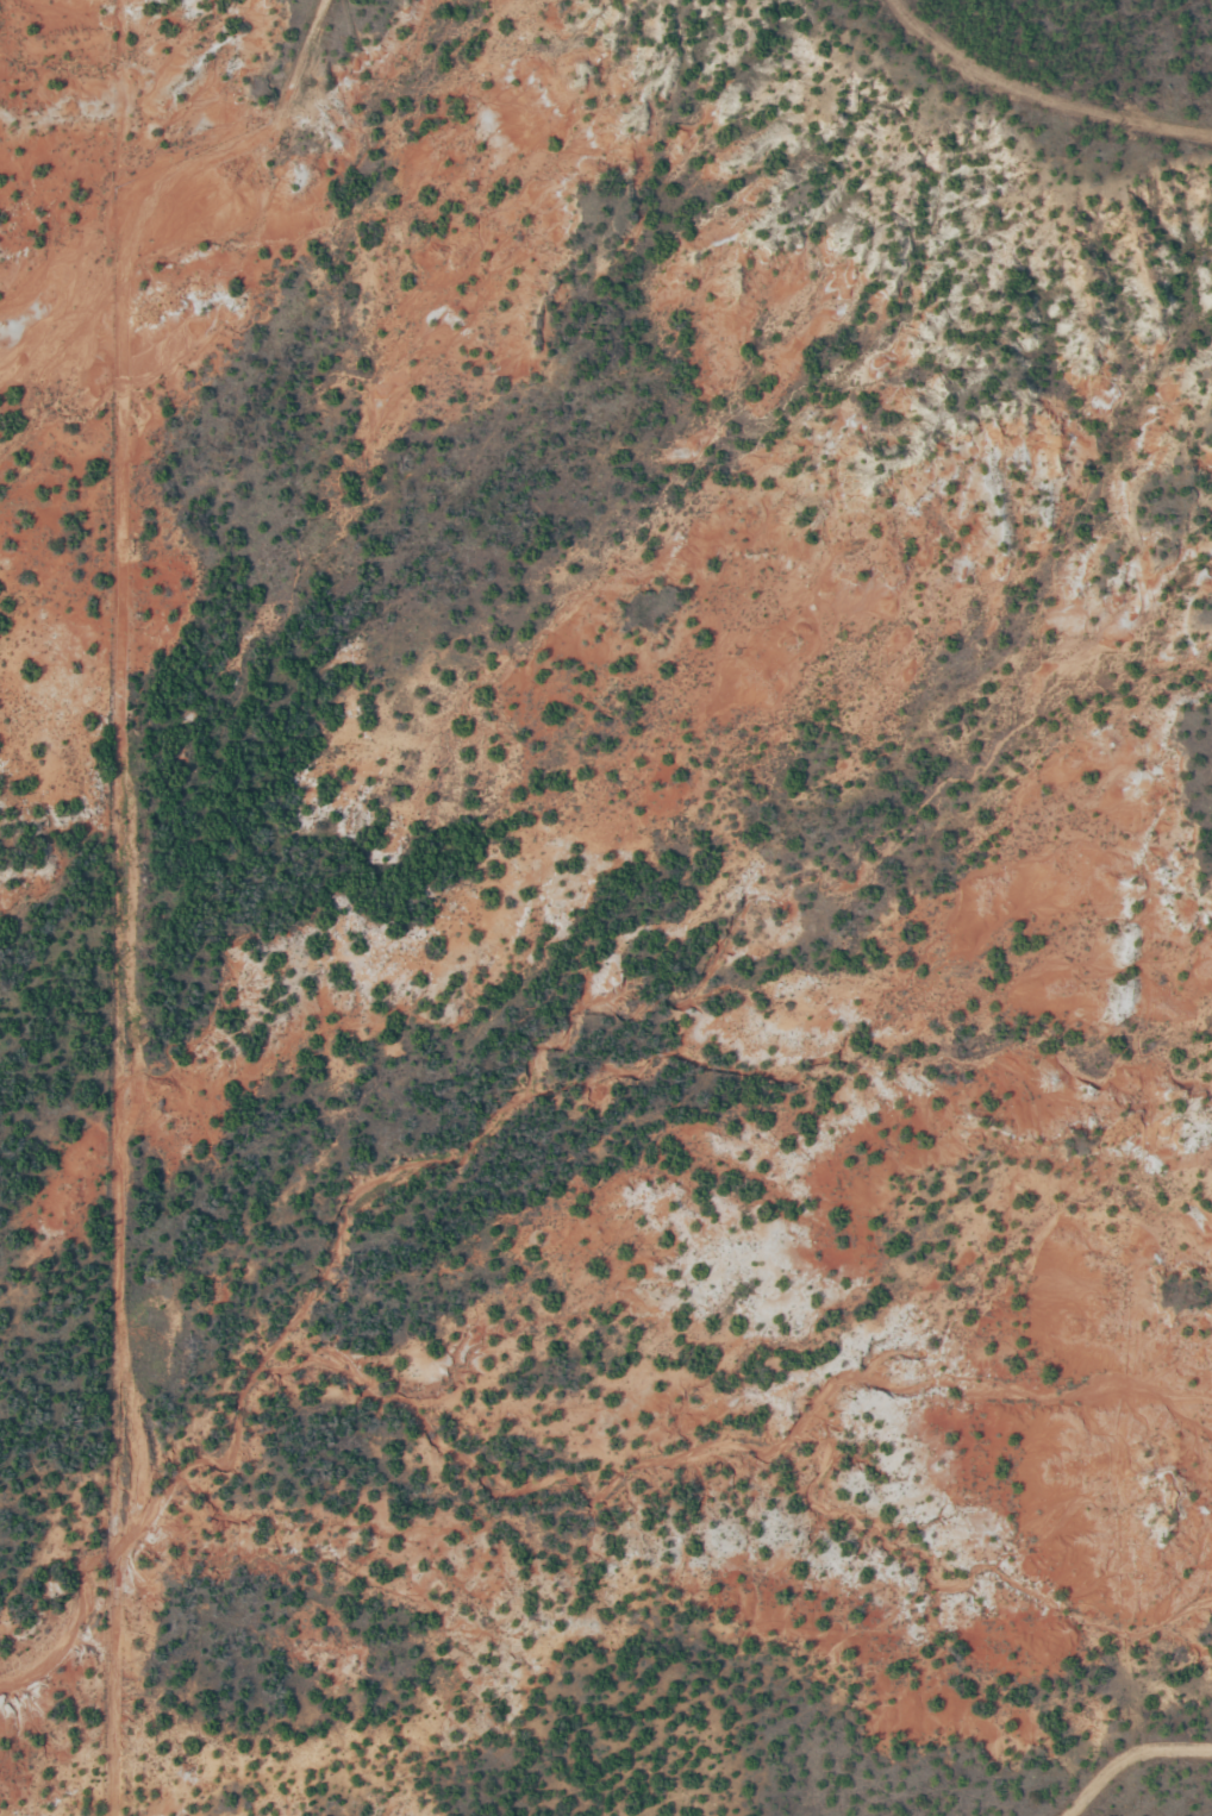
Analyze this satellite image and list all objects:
road: (1175, 1805)

